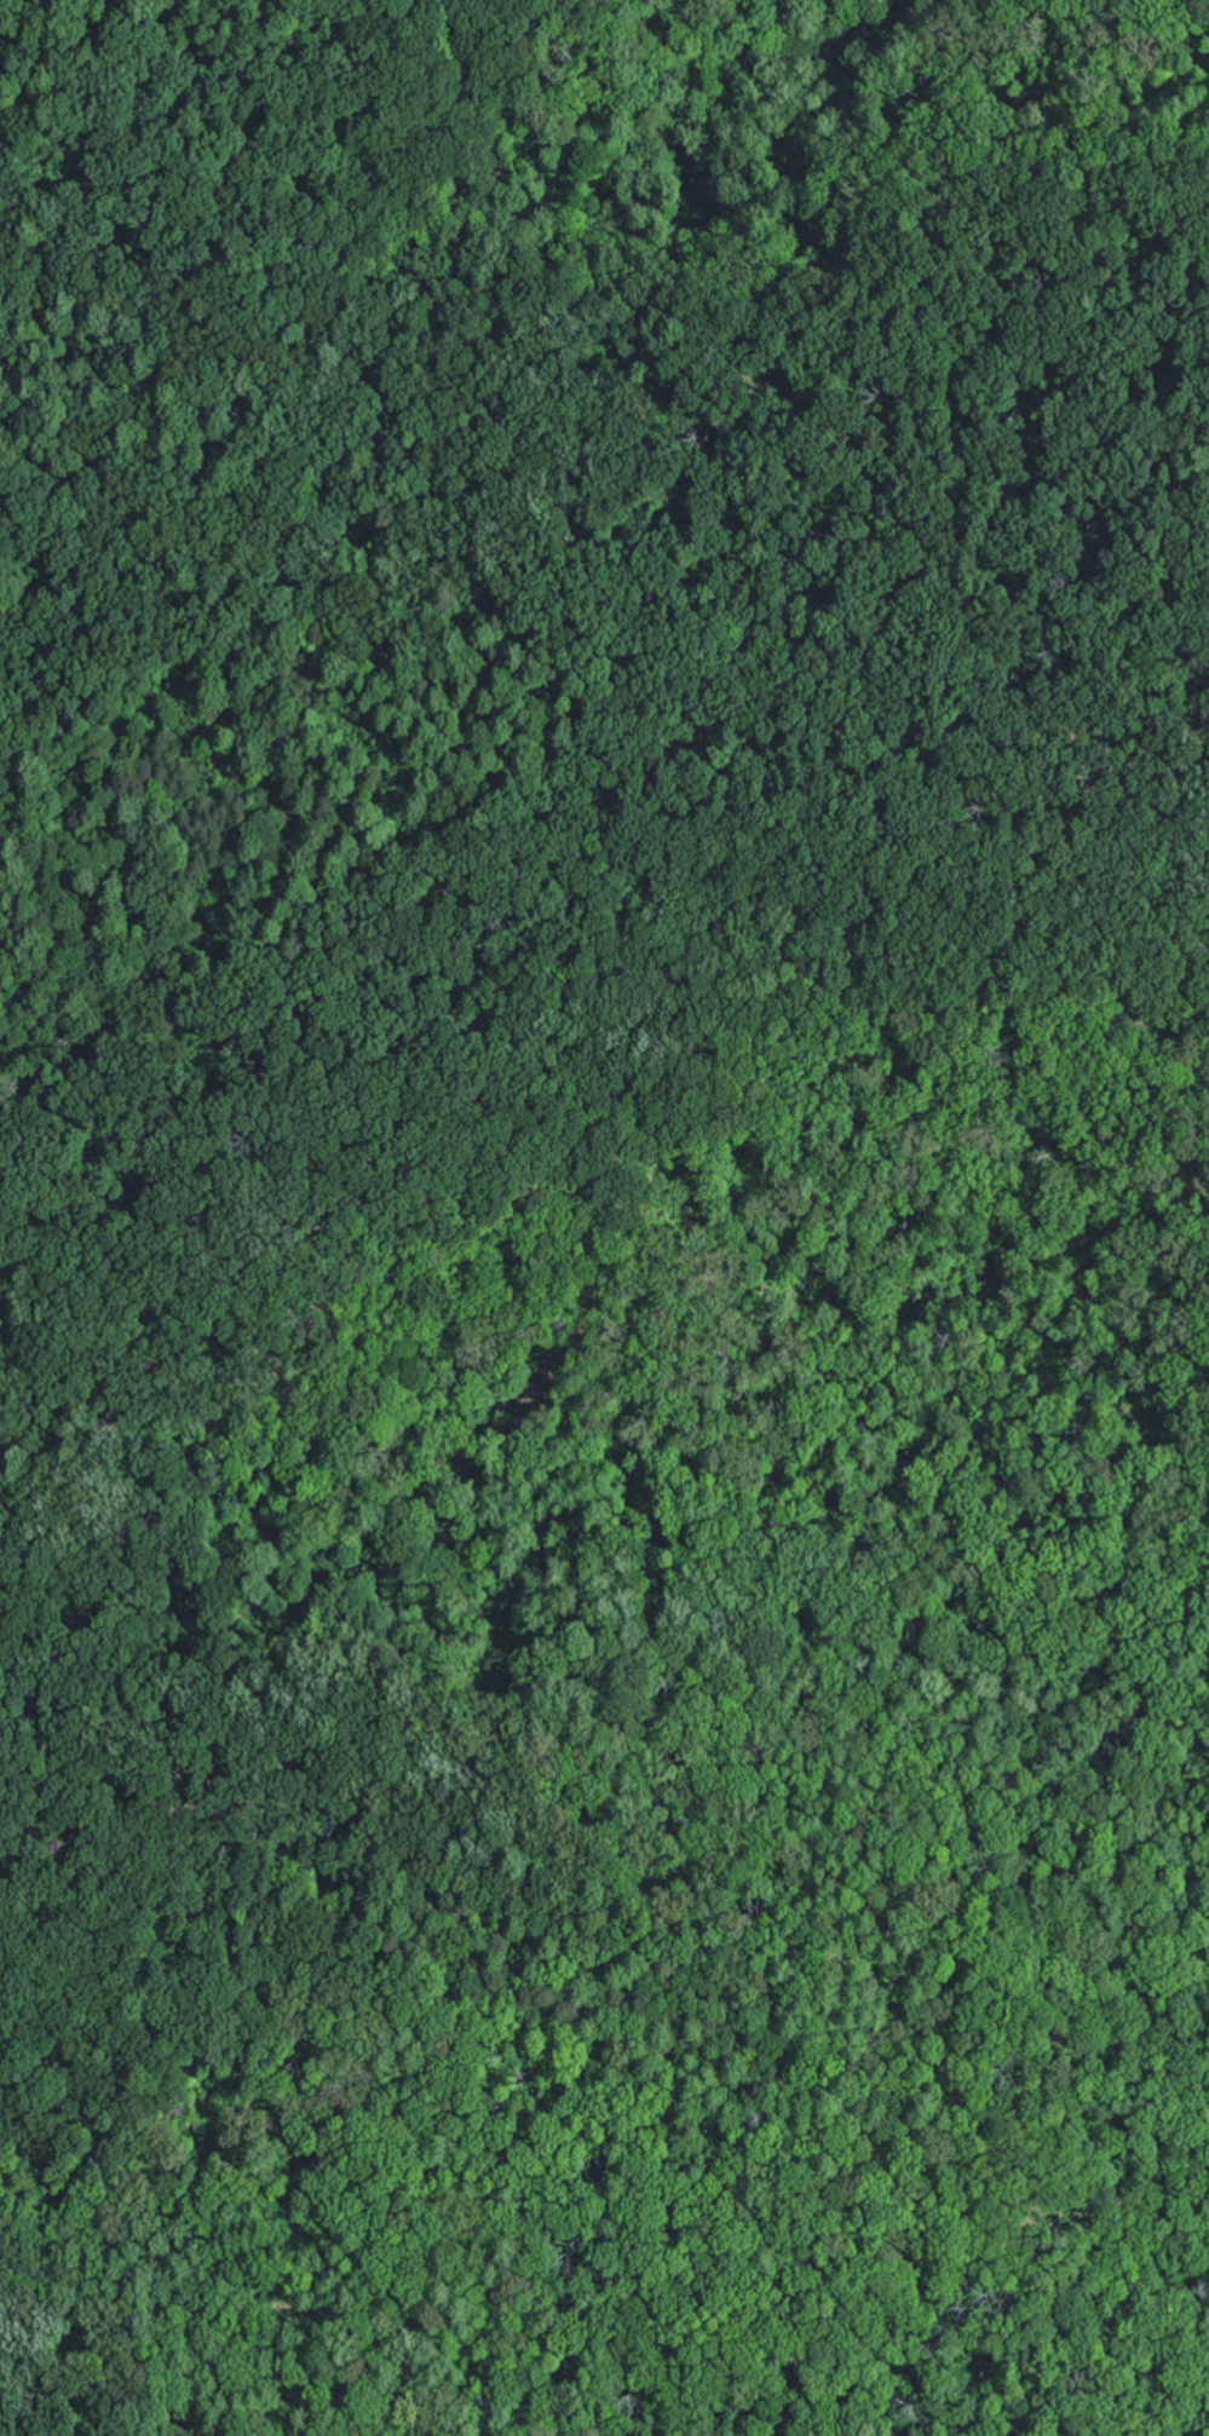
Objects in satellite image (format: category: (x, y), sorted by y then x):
road: (822, 1826)

